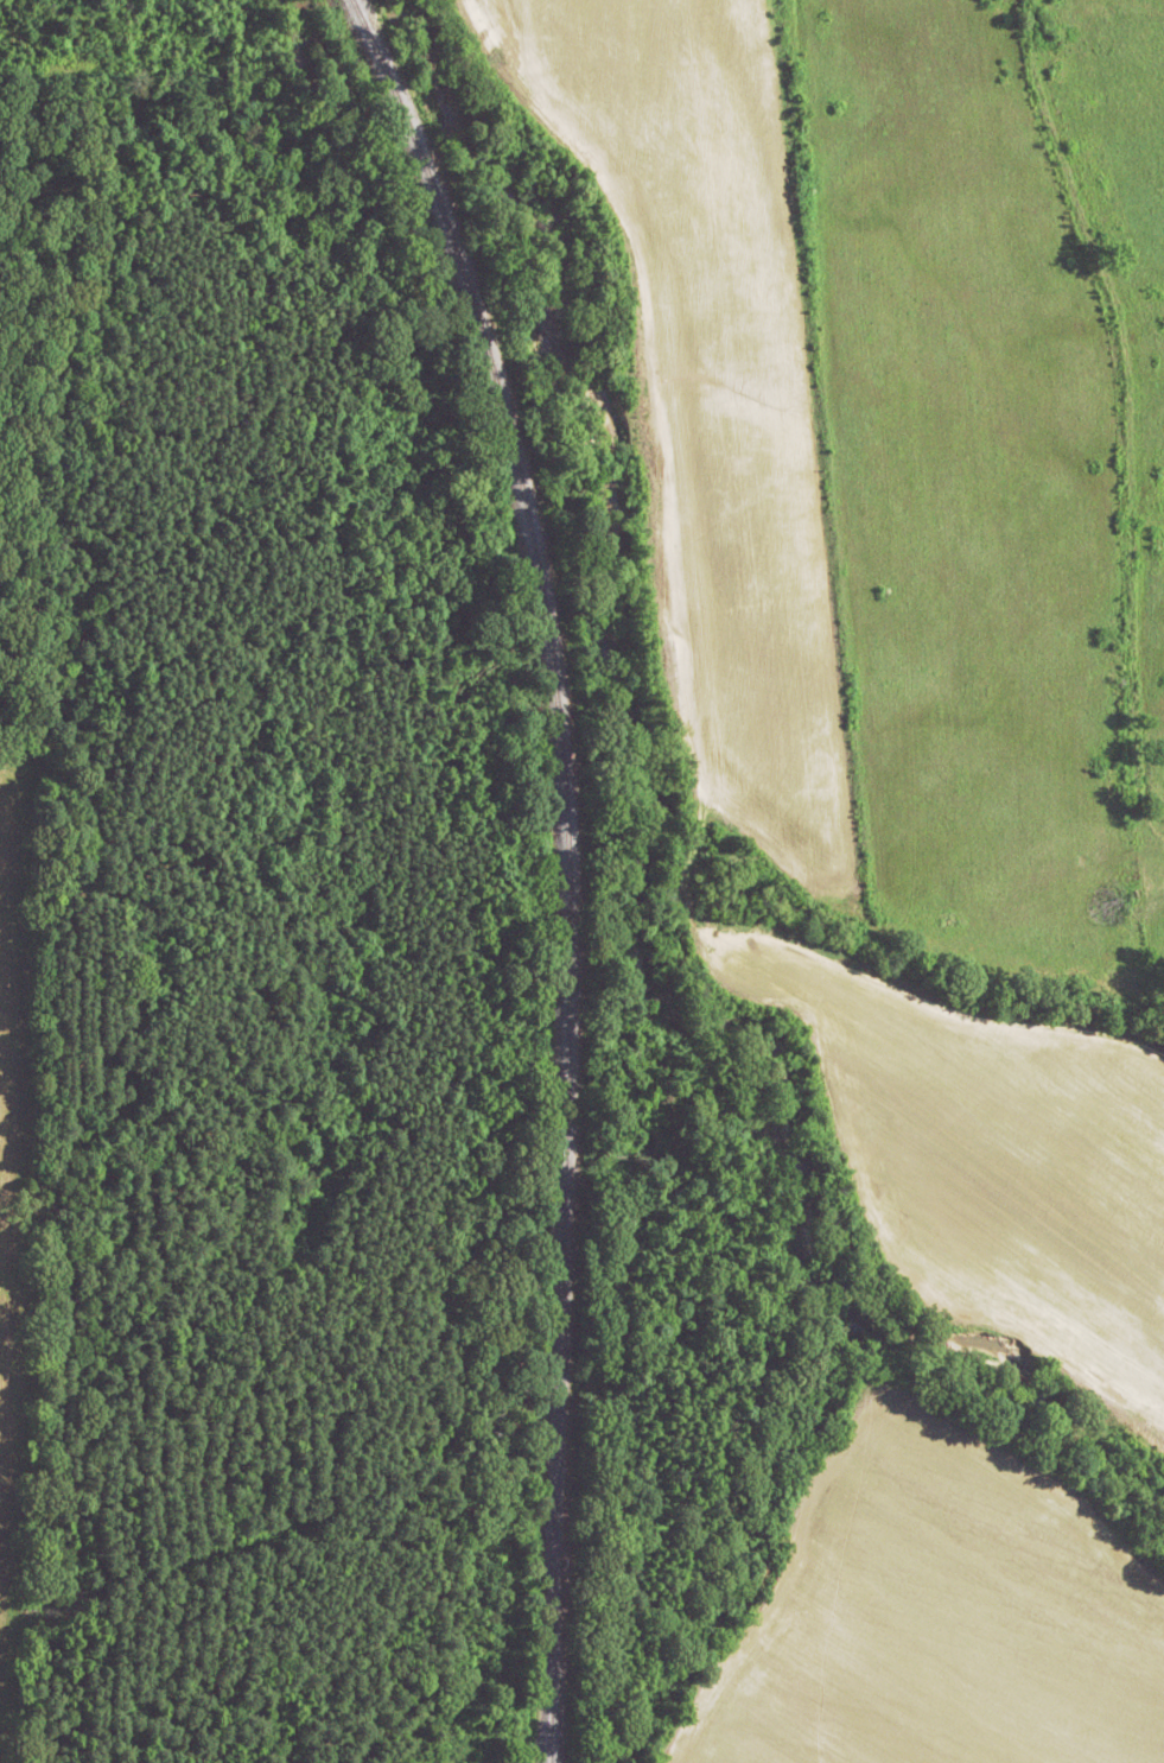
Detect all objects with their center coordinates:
railway: (565, 864)

